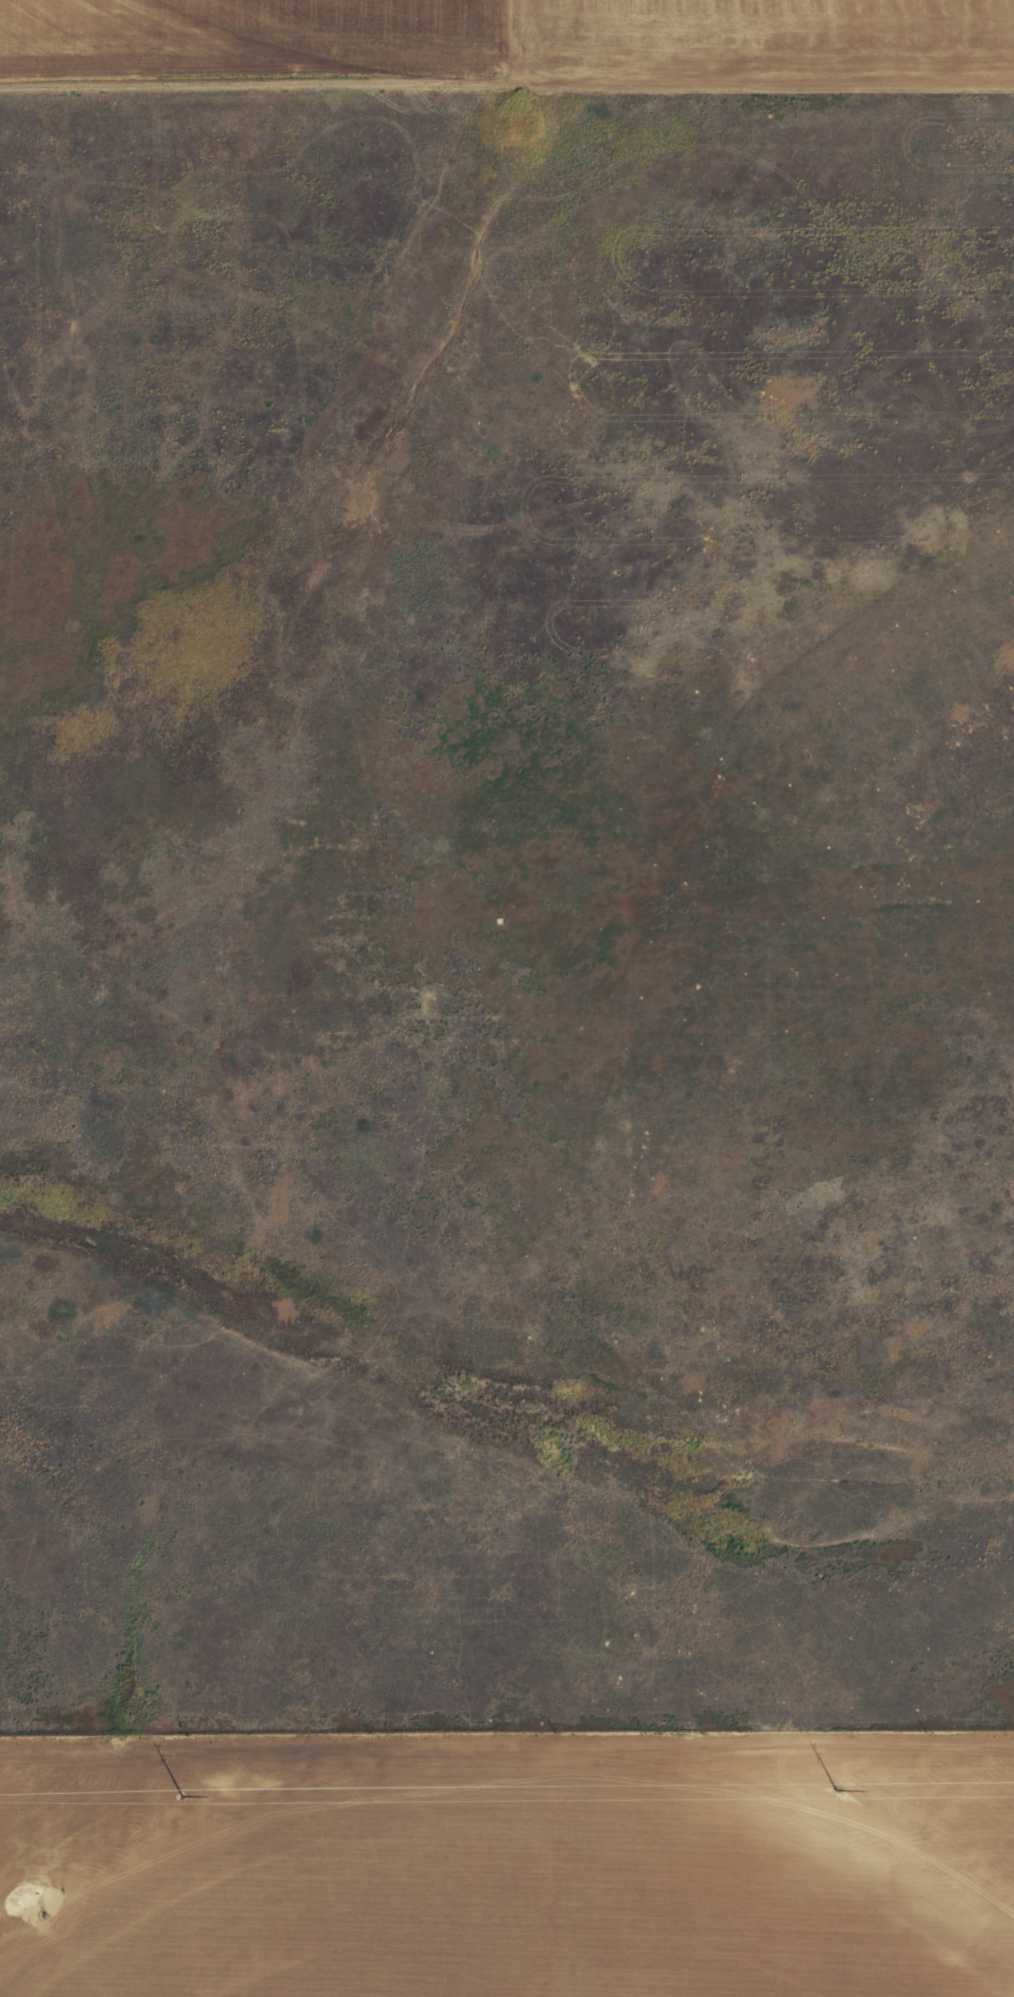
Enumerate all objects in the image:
power tower: (839, 1793)
power tower: (184, 1800)

